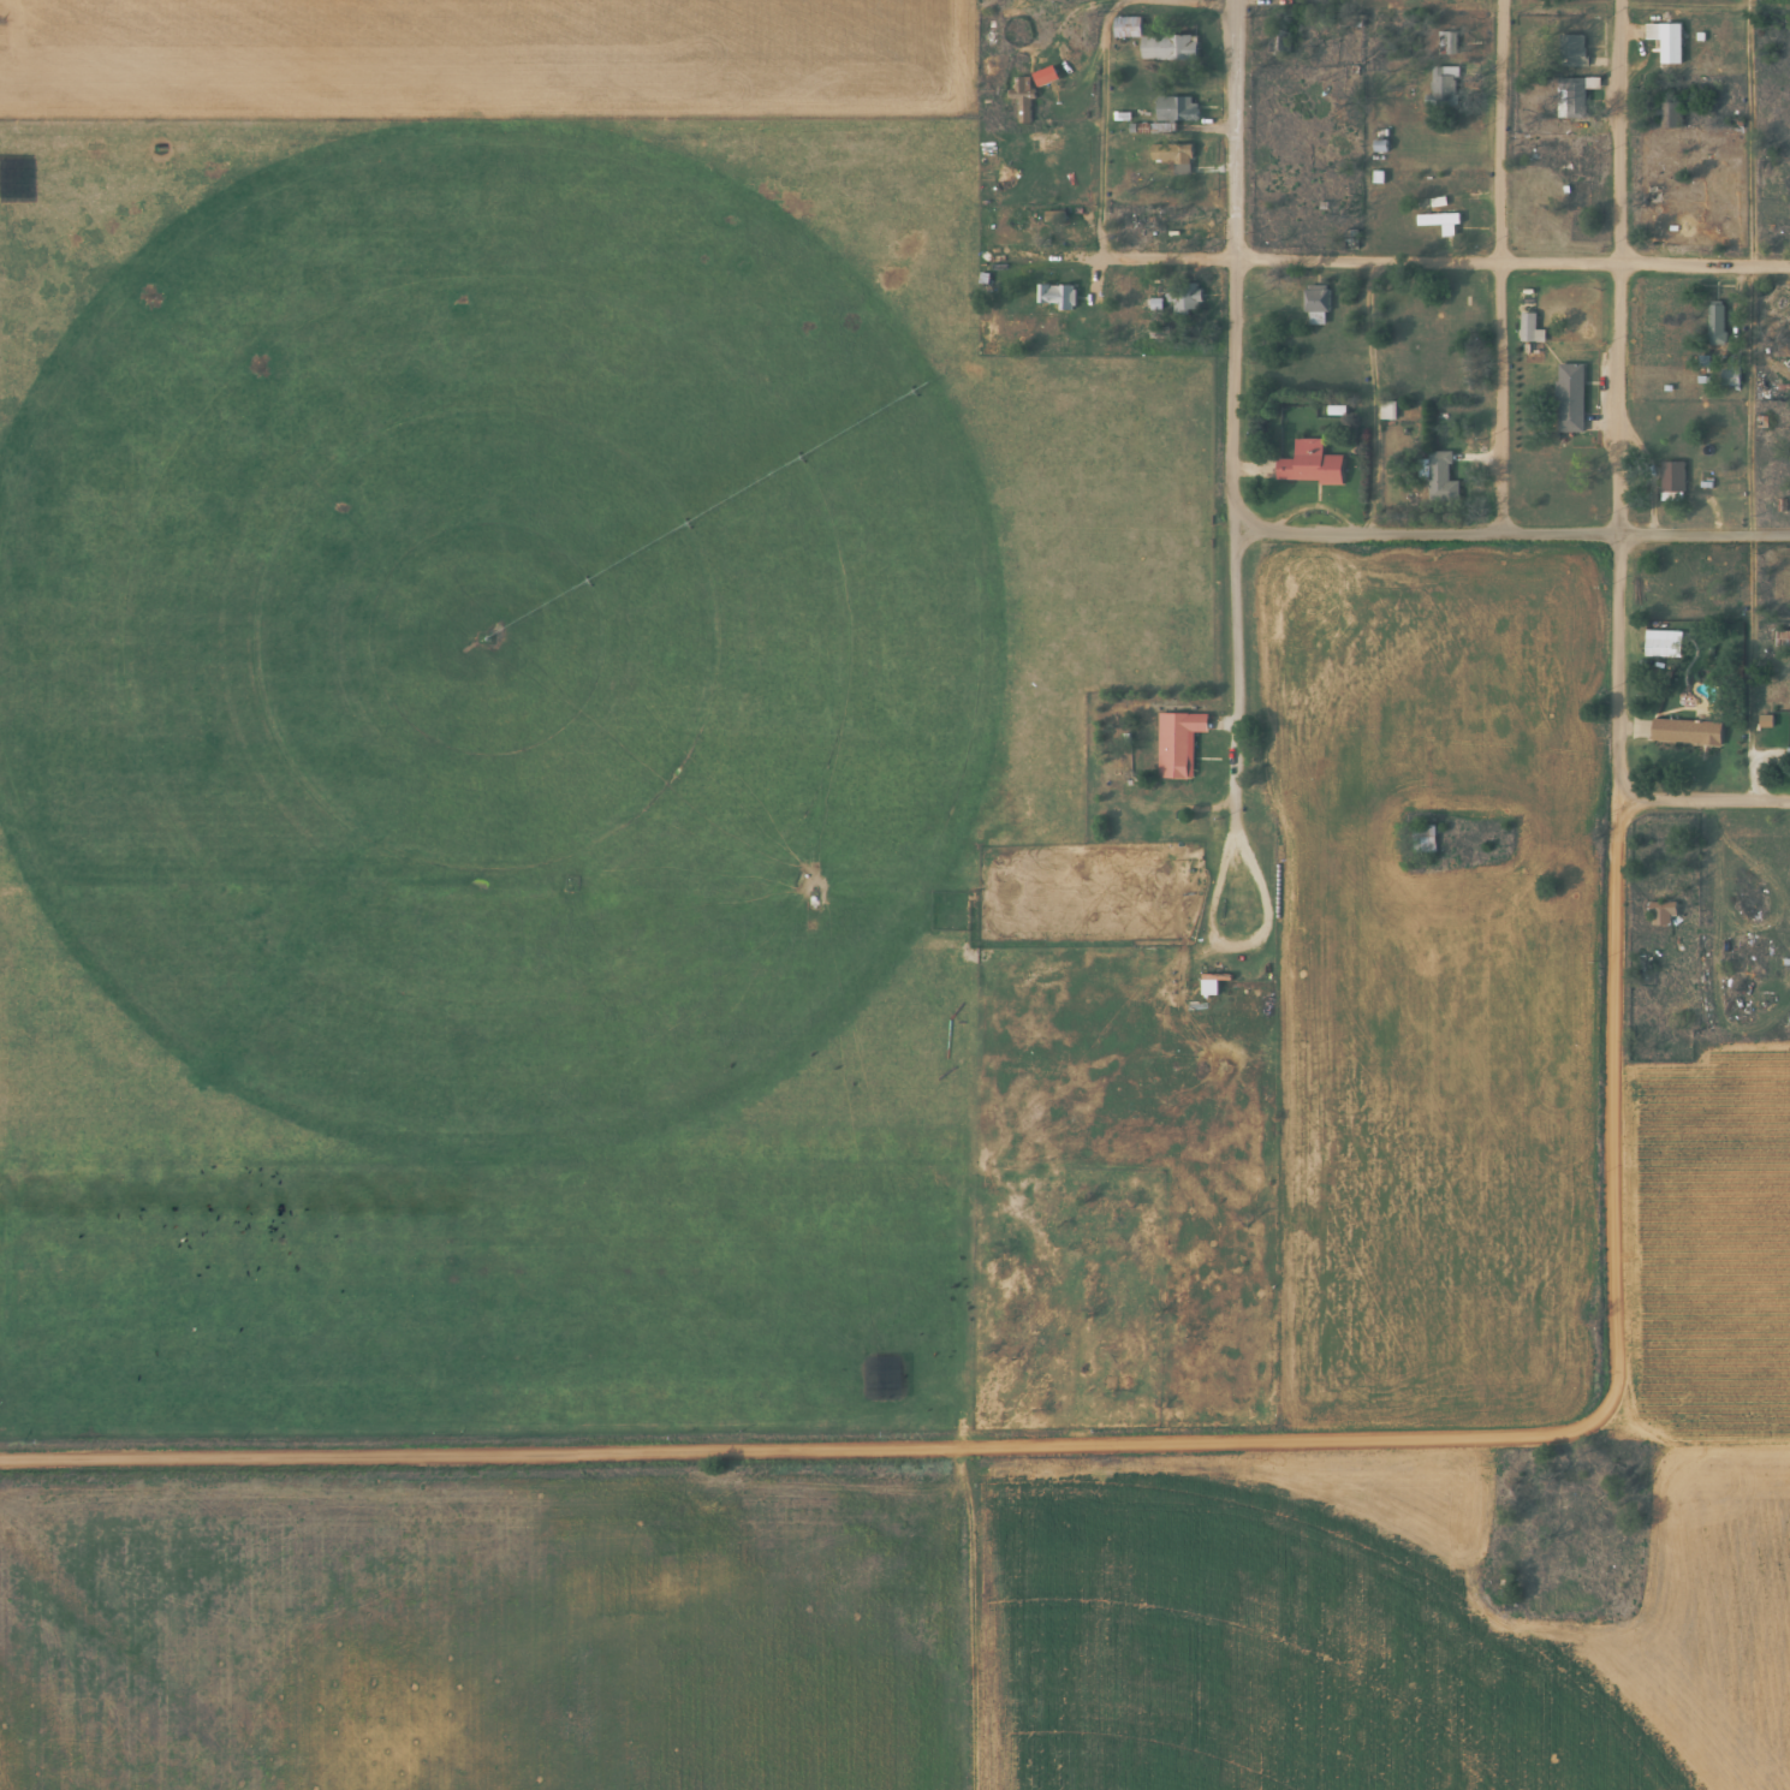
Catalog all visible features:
building: (1124, 28)
building: (1664, 41)
building: (1279, 43)
building: (1445, 43)
building: (1166, 49)
building: (1571, 52)
building: (1441, 87)
building: (1574, 97)
building: (1021, 101)
building: (1174, 109)
building: (1667, 115)
building: (1376, 147)
building: (1174, 161)
building: (1675, 215)
building: (1438, 222)
road: (1510, 261)
road: (1495, 267)
building: (1054, 298)
building: (1184, 302)
building: (1314, 305)
building: (1713, 323)
building: (1528, 329)
building: (1566, 399)
road: (1614, 403)
road: (1227, 410)
building: (1307, 465)
building: (1439, 478)
building: (1669, 481)
road: (1507, 534)
building: (1773, 587)
building: (1780, 640)
building: (1657, 648)
building: (1683, 732)
building: (1174, 744)
road: (1703, 805)
building: (1422, 839)
building: (1661, 912)
building: (1206, 987)
road: (1131, 1451)

